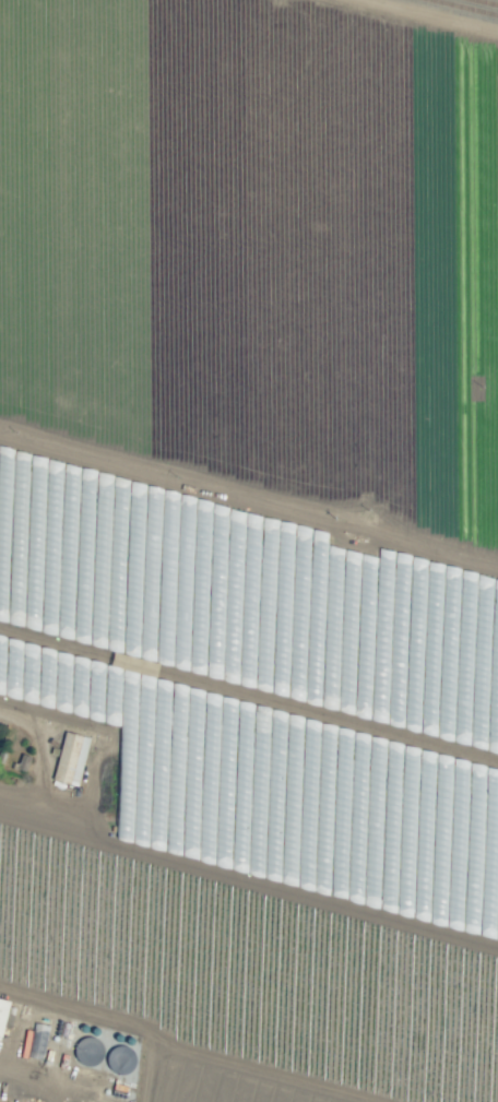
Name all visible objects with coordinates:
railway: (486, 2)
railway: (463, 8)
crop: (247, 554)
building: (70, 758)
building: (2, 1011)
building: (38, 1036)
road: (209, 1047)
building: (88, 1051)
road: (142, 1066)

